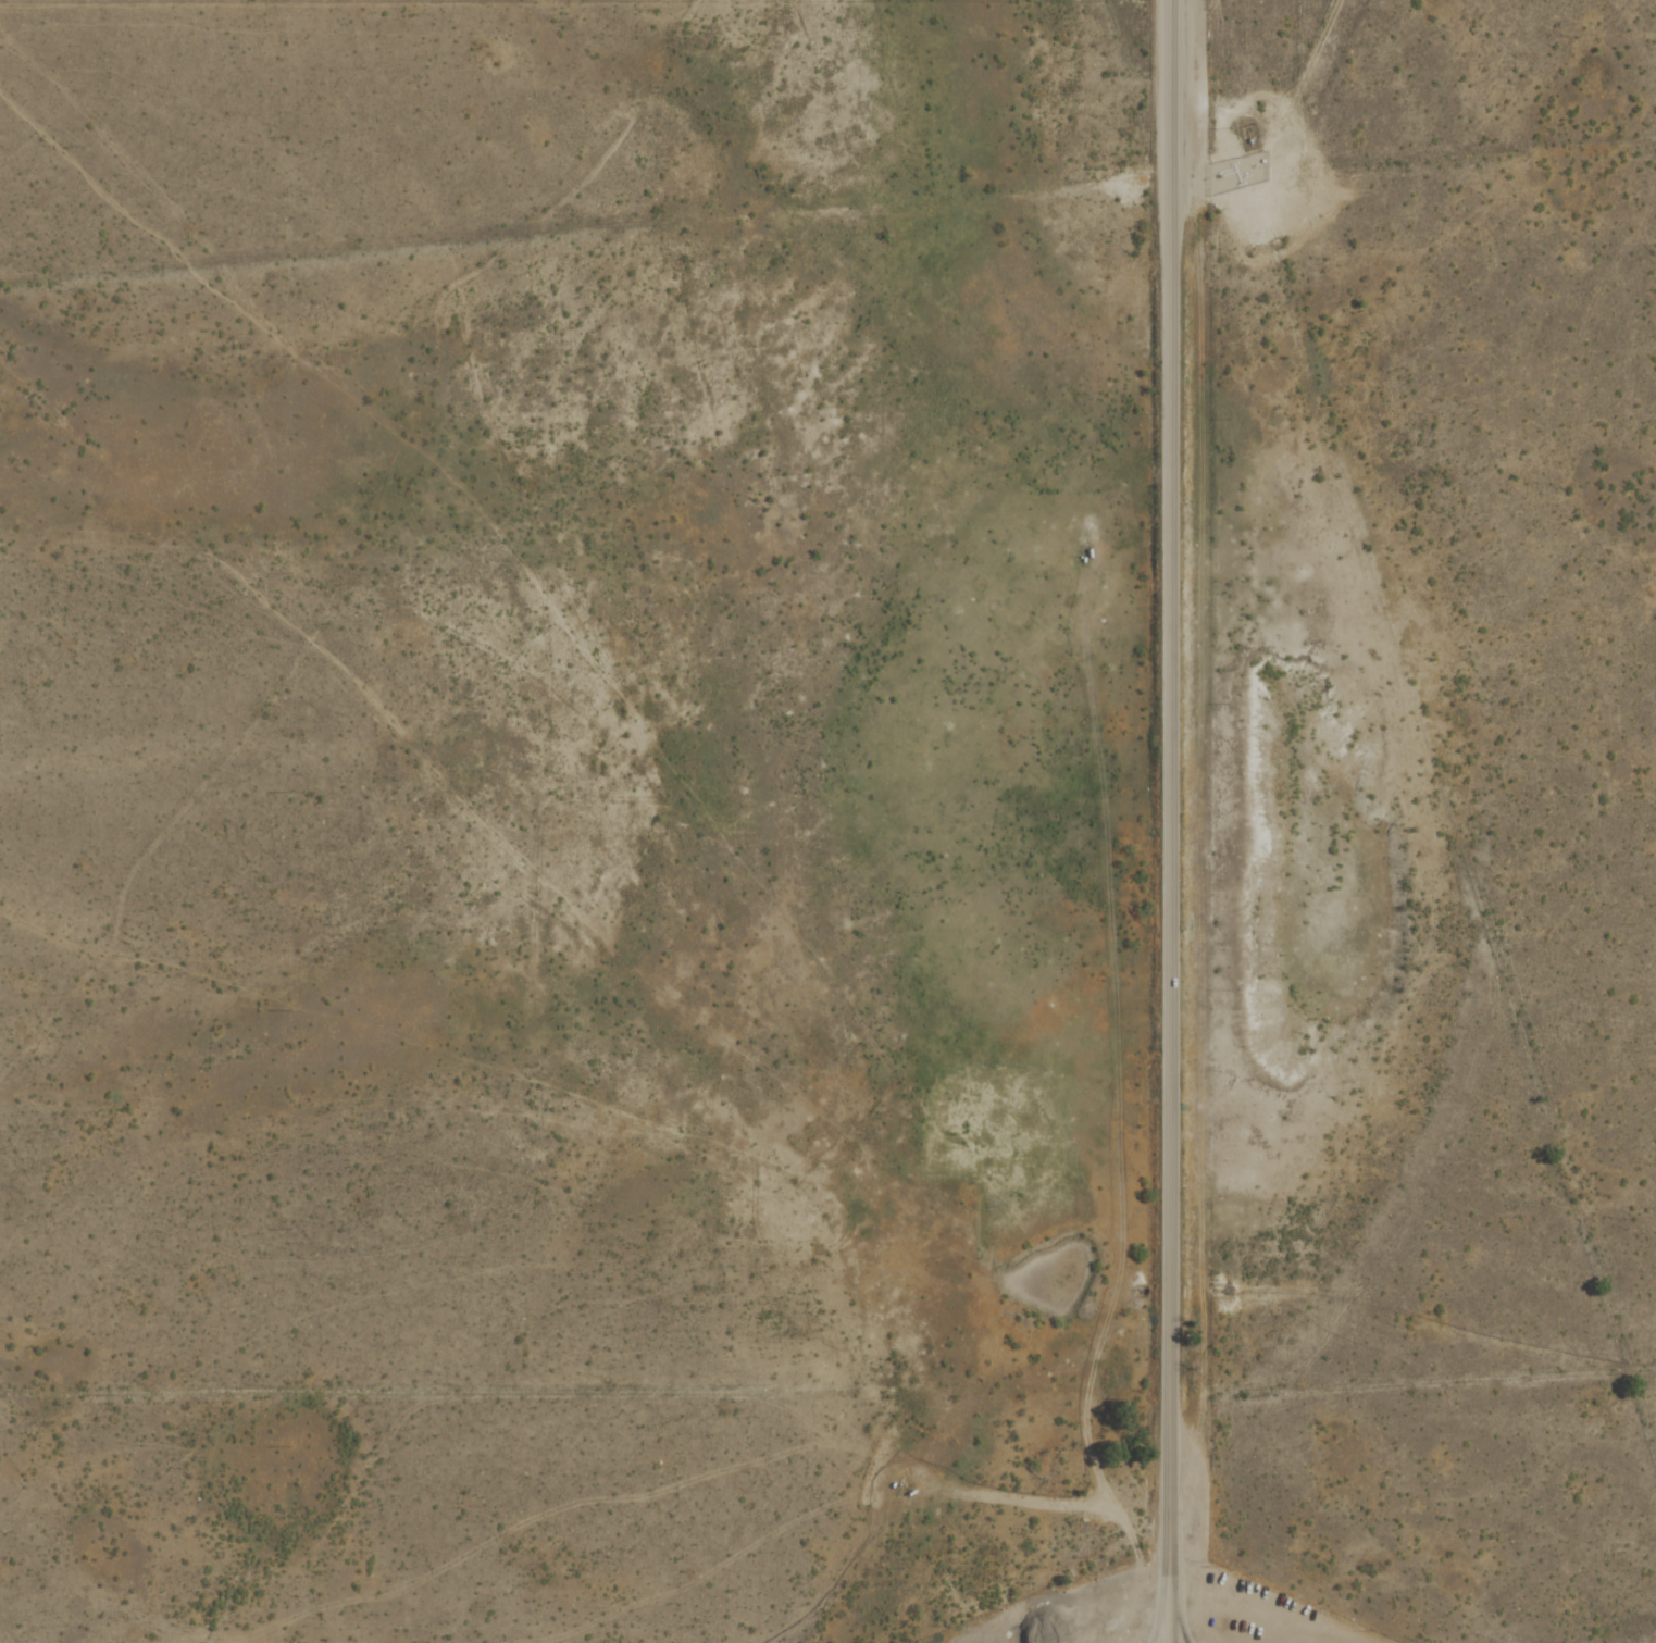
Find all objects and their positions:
road: (1173, 821)
road: (1157, 1626)
road: (1179, 1626)

